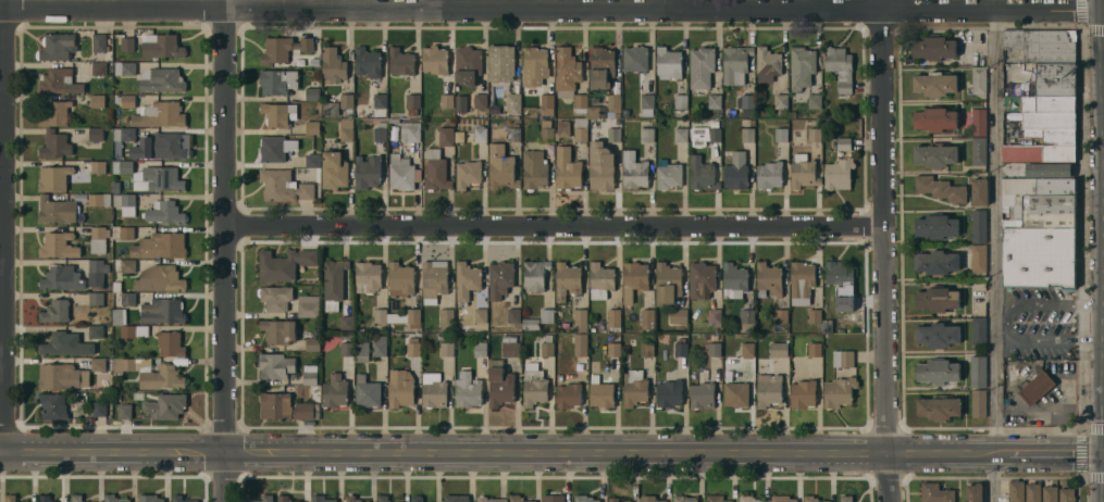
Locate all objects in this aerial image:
road: (445, 3)
road: (666, 3)
road: (551, 8)
building: (99, 42)
building: (127, 43)
building: (1042, 45)
building: (162, 46)
building: (57, 47)
building: (283, 48)
building: (934, 48)
building: (635, 59)
building: (434, 60)
building: (400, 61)
building: (367, 62)
building: (500, 62)
building: (669, 63)
building: (768, 63)
building: (333, 64)
building: (467, 64)
building: (735, 64)
building: (534, 66)
building: (125, 67)
building: (601, 67)
building: (702, 67)
building: (840, 67)
building: (99, 68)
building: (567, 70)
building: (801, 70)
building: (1055, 78)
building: (162, 79)
building: (979, 80)
building: (60, 81)
building: (277, 81)
building: (934, 84)
building: (1021, 88)
building: (312, 93)
building: (125, 100)
building: (346, 100)
building: (480, 100)
building: (98, 101)
building: (413, 101)
building: (446, 101)
building: (547, 101)
building: (647, 101)
building: (681, 101)
building: (715, 101)
building: (815, 101)
building: (459, 103)
building: (513, 103)
building: (580, 103)
building: (615, 103)
building: (781, 103)
building: (1050, 103)
building: (380, 104)
building: (746, 104)
building: (330, 109)
building: (593, 112)
building: (57, 113)
building: (816, 113)
building: (160, 114)
building: (278, 114)
building: (125, 117)
building: (393, 120)
building: (935, 120)
building: (1050, 120)
building: (979, 122)
building: (714, 124)
building: (313, 127)
building: (346, 129)
building: (562, 129)
building: (581, 129)
building: (504, 130)
building: (546, 130)
building: (380, 131)
building: (410, 131)
building: (96, 134)
building: (480, 134)
building: (615, 135)
building: (647, 135)
building: (680, 135)
building: (747, 135)
building: (780, 135)
building: (815, 135)
building: (1053, 135)
building: (445, 136)
building: (459, 136)
building: (705, 136)
building: (123, 138)
building: (843, 143)
building: (55, 145)
building: (160, 146)
building: (276, 149)
building: (978, 151)
building: (1039, 152)
building: (935, 155)
building: (312, 161)
building: (99, 166)
building: (122, 166)
building: (601, 166)
building: (501, 168)
building: (567, 168)
building: (534, 170)
building: (1050, 170)
building: (335, 171)
building: (435, 171)
building: (634, 171)
building: (368, 172)
building: (400, 172)
building: (736, 172)
building: (803, 172)
building: (467, 174)
building: (702, 174)
building: (839, 174)
building: (668, 175)
building: (769, 175)
building: (54, 177)
building: (163, 177)
building: (284, 186)
building: (1039, 186)
building: (116, 187)
building: (940, 188)
building: (979, 191)
building: (100, 199)
building: (125, 202)
building: (58, 210)
building: (1043, 210)
building: (164, 212)
road: (551, 225)
building: (978, 225)
road: (2, 226)
building: (936, 226)
building: (124, 233)
building: (98, 238)
building: (1049, 242)
building: (59, 244)
building: (160, 244)
road: (223, 251)
road: (880, 251)
road: (995, 251)
building: (979, 258)
building: (936, 262)
building: (284, 264)
building: (128, 265)
building: (97, 272)
building: (535, 275)
building: (368, 276)
building: (61, 278)
building: (160, 278)
building: (335, 279)
building: (434, 279)
building: (500, 279)
building: (634, 279)
building: (702, 279)
building: (768, 279)
building: (400, 280)
building: (467, 280)
building: (567, 280)
building: (600, 280)
building: (734, 280)
building: (841, 280)
building: (802, 283)
building: (668, 284)
building: (116, 286)
building: (96, 298)
building: (128, 298)
building: (275, 298)
building: (936, 299)
building: (308, 305)
building: (55, 311)
building: (162, 311)
building: (447, 315)
building: (480, 315)
building: (513, 315)
building: (546, 315)
building: (815, 315)
building: (120, 316)
building: (381, 316)
building: (679, 316)
building: (715, 316)
building: (781, 316)
building: (406, 318)
building: (613, 318)
building: (647, 318)
building: (747, 318)
building: (580, 321)
building: (347, 323)
building: (531, 324)
road: (1006, 324)
building: (828, 326)
building: (463, 328)
building: (135, 330)
building: (978, 330)
building: (96, 331)
building: (278, 331)
building: (938, 335)
building: (715, 337)
building: (66, 343)
building: (171, 343)
building: (312, 344)
building: (581, 344)
building: (380, 346)
building: (510, 346)
building: (346, 347)
building: (547, 347)
building: (412, 348)
building: (447, 349)
building: (480, 349)
building: (613, 349)
building: (646, 349)
building: (681, 349)
building: (779, 349)
building: (815, 349)
building: (625, 350)
building: (715, 350)
building: (747, 350)
building: (361, 351)
building: (843, 359)
building: (98, 364)
building: (131, 364)
building: (276, 365)
building: (939, 372)
building: (978, 372)
building: (310, 374)
building: (63, 375)
building: (162, 377)
building: (559, 378)
building: (115, 385)
building: (499, 385)
building: (1037, 387)
building: (400, 388)
building: (534, 388)
building: (634, 388)
building: (433, 390)
building: (467, 390)
building: (769, 390)
building: (335, 392)
building: (367, 392)
building: (600, 392)
building: (703, 392)
building: (839, 392)
building: (736, 393)
building: (669, 394)
building: (803, 394)
building: (568, 396)
building: (117, 398)
building: (978, 403)
building: (54, 405)
building: (165, 405)
building: (284, 407)
building: (939, 407)
building: (99, 409)
building: (125, 411)
road: (551, 451)
building: (1016, 491)
building: (975, 492)
building: (1032, 492)
building: (935, 493)
building: (1050, 493)
building: (1066, 495)
building: (10, 498)
building: (76, 498)
building: (148, 498)
building: (382, 498)
building: (455, 498)
building: (45, 499)
building: (113, 499)
building: (182, 499)
building: (263, 499)
building: (284, 499)
building: (322, 499)
building: (351, 499)
building: (417, 499)
building: (489, 499)
building: (518, 499)
building: (554, 499)
building: (584, 499)
building: (649, 499)
building: (684, 499)
building: (716, 499)
building: (748, 499)
building: (783, 499)
building: (811, 499)
building: (846, 499)
building: (613, 500)
building: (296, 501)
building: (368, 501)

